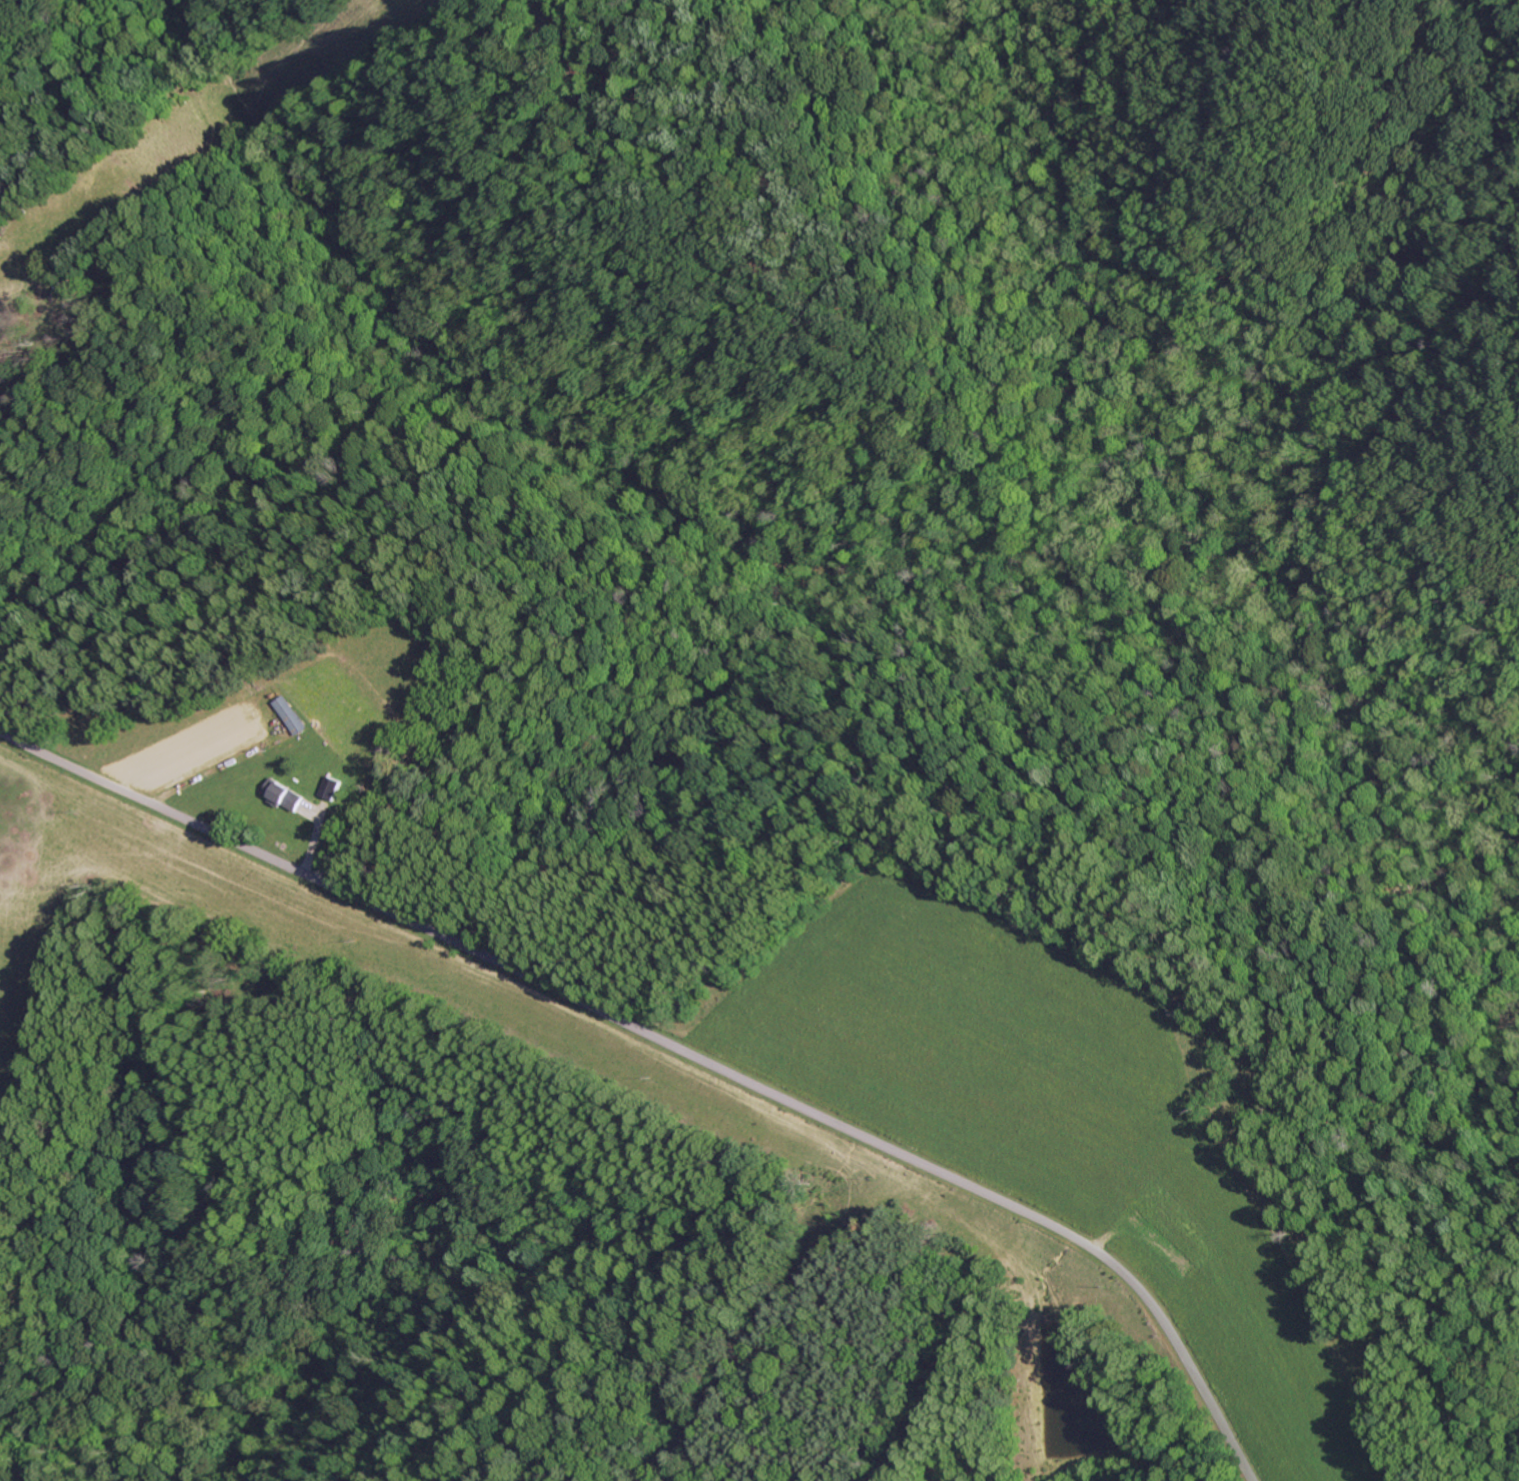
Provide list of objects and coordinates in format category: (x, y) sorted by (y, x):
building: (290, 717)
building: (332, 790)
building: (284, 797)
road: (676, 1049)

